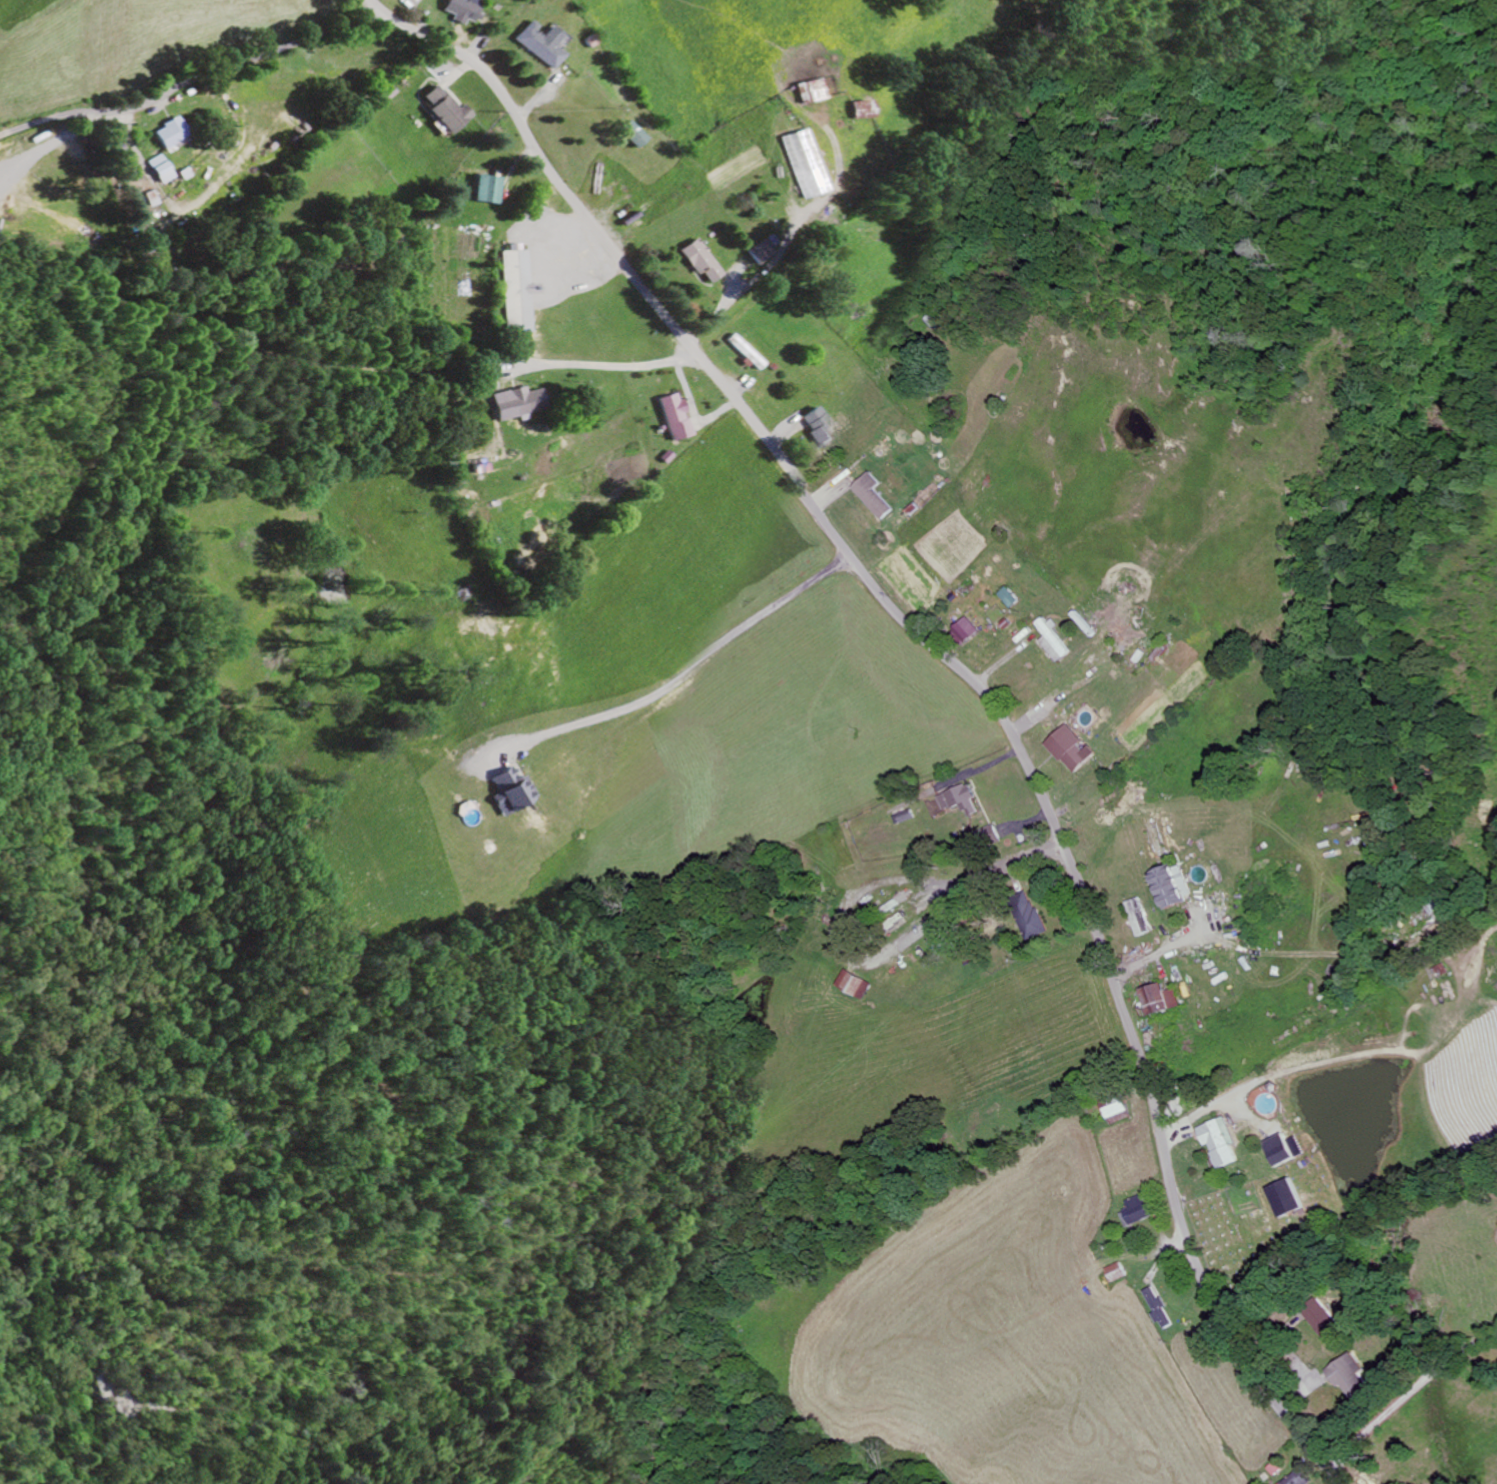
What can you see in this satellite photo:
building: (460, 10)
building: (534, 44)
road: (192, 81)
building: (806, 92)
building: (446, 111)
building: (852, 111)
building: (165, 135)
building: (625, 136)
building: (797, 164)
building: (155, 170)
building: (485, 191)
building: (755, 253)
building: (695, 261)
building: (514, 291)
building: (738, 350)
building: (512, 404)
building: (672, 418)
building: (815, 430)
building: (873, 496)
building: (1015, 596)
building: (1059, 639)
road: (967, 671)
building: (1071, 748)
road: (784, 782)
building: (505, 790)
building: (962, 799)
building: (992, 834)
building: (1030, 915)
building: (1140, 916)
building: (1160, 998)
building: (1119, 1112)
building: (1220, 1141)
building: (1283, 1149)
building: (1285, 1197)
building: (1141, 1210)
building: (1119, 1272)
building: (1160, 1308)
building: (1324, 1317)
building: (1353, 1378)
road: (1409, 1394)
building: (1299, 1479)

